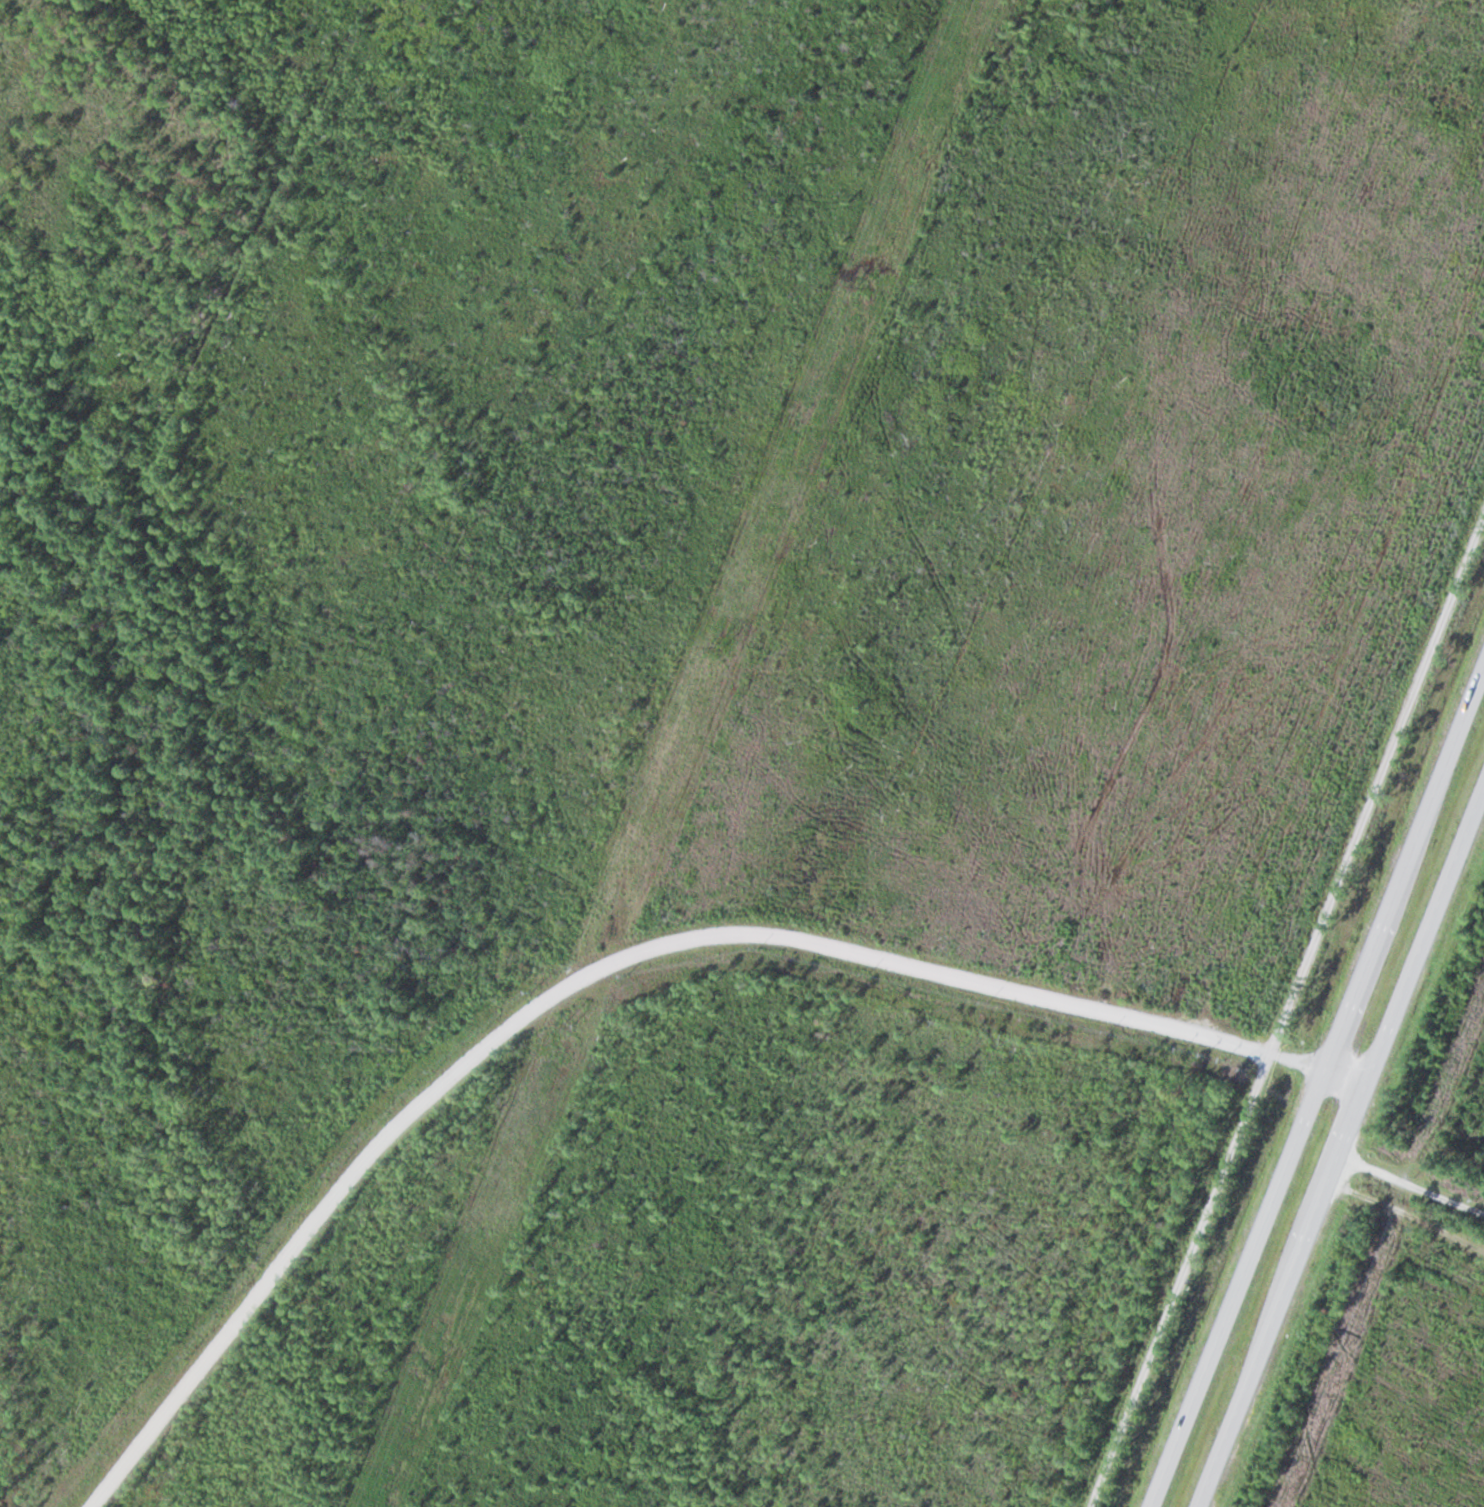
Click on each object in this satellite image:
road: (583, 976)
road: (1287, 1008)
road: (1287, 1008)
road: (1328, 1073)
road: (1318, 1092)
road: (1341, 1149)

